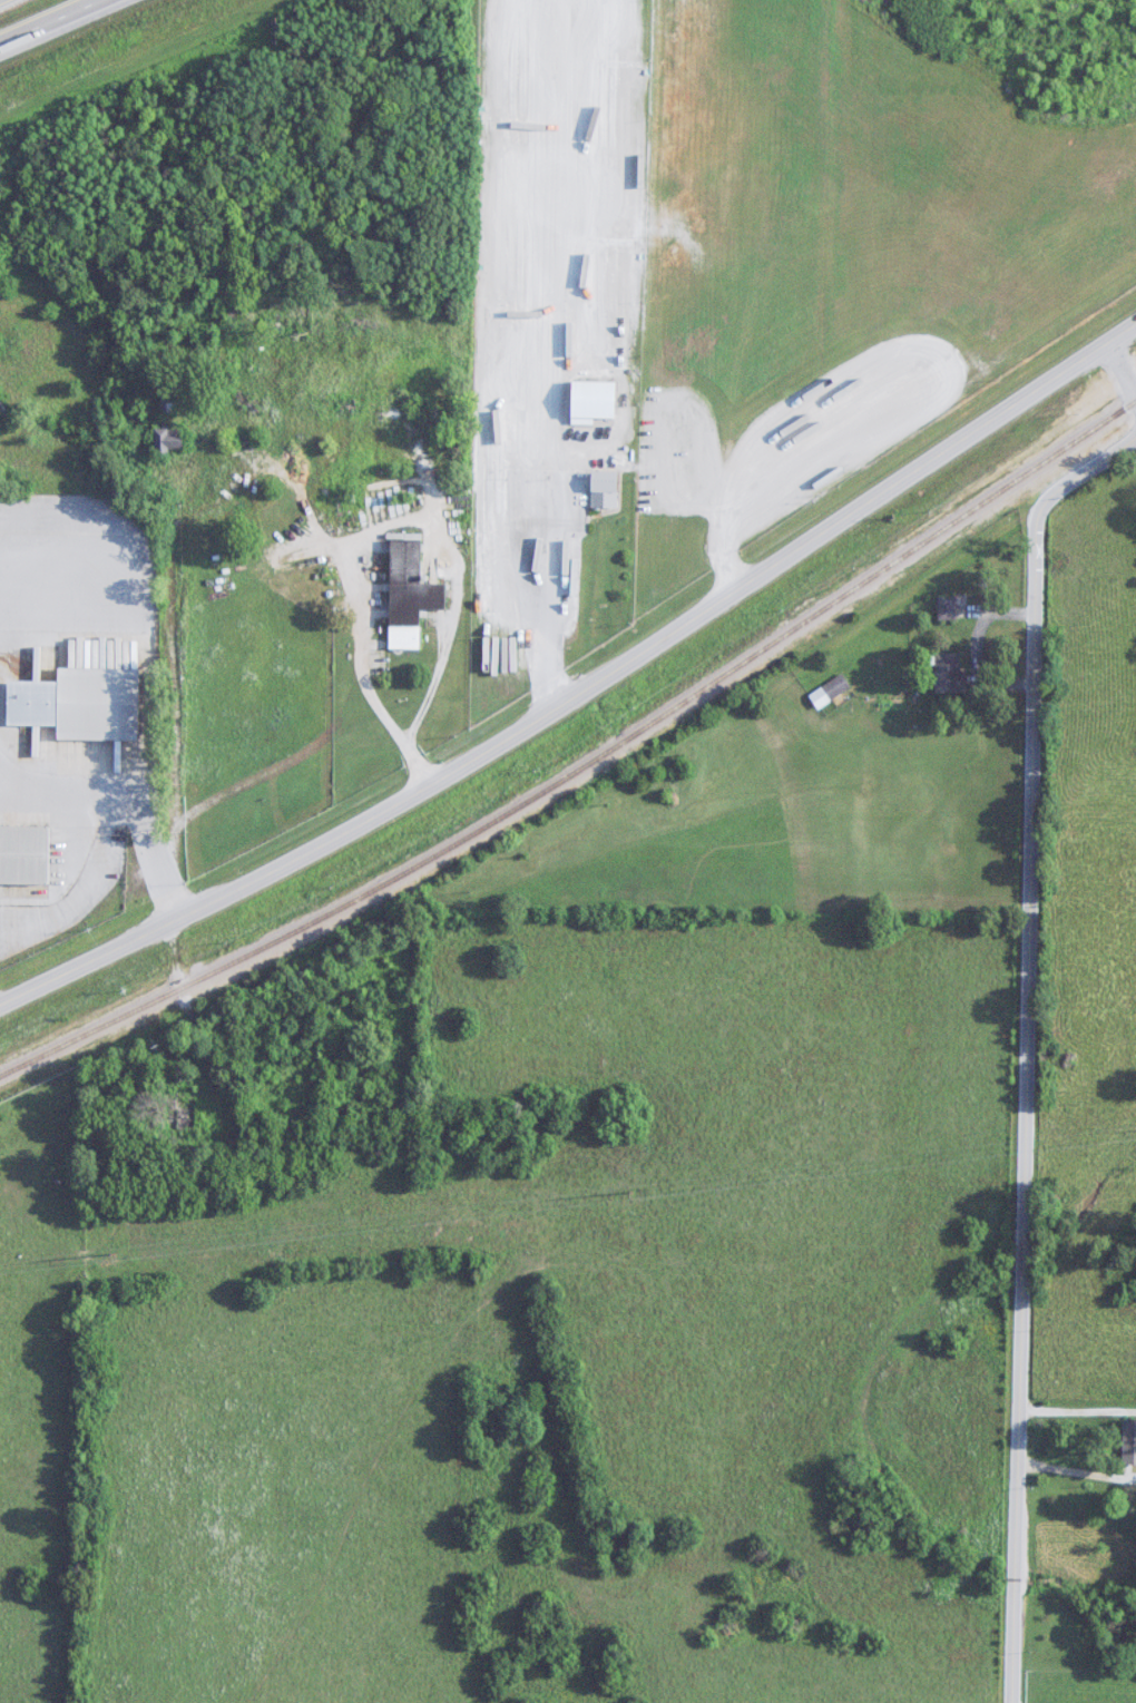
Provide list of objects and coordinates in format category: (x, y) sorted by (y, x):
road: (9, 3)
road: (65, 28)
road: (1122, 368)
building: (593, 404)
building: (168, 442)
road: (1080, 476)
building: (605, 491)
road: (381, 528)
road: (547, 557)
road: (68, 560)
building: (410, 594)
building: (948, 608)
building: (950, 673)
road: (582, 692)
building: (830, 692)
building: (80, 704)
railway: (582, 765)
road: (130, 795)
building: (23, 855)
road: (87, 892)
road: (1025, 1113)
building: (186, 1115)
building: (1129, 1442)

